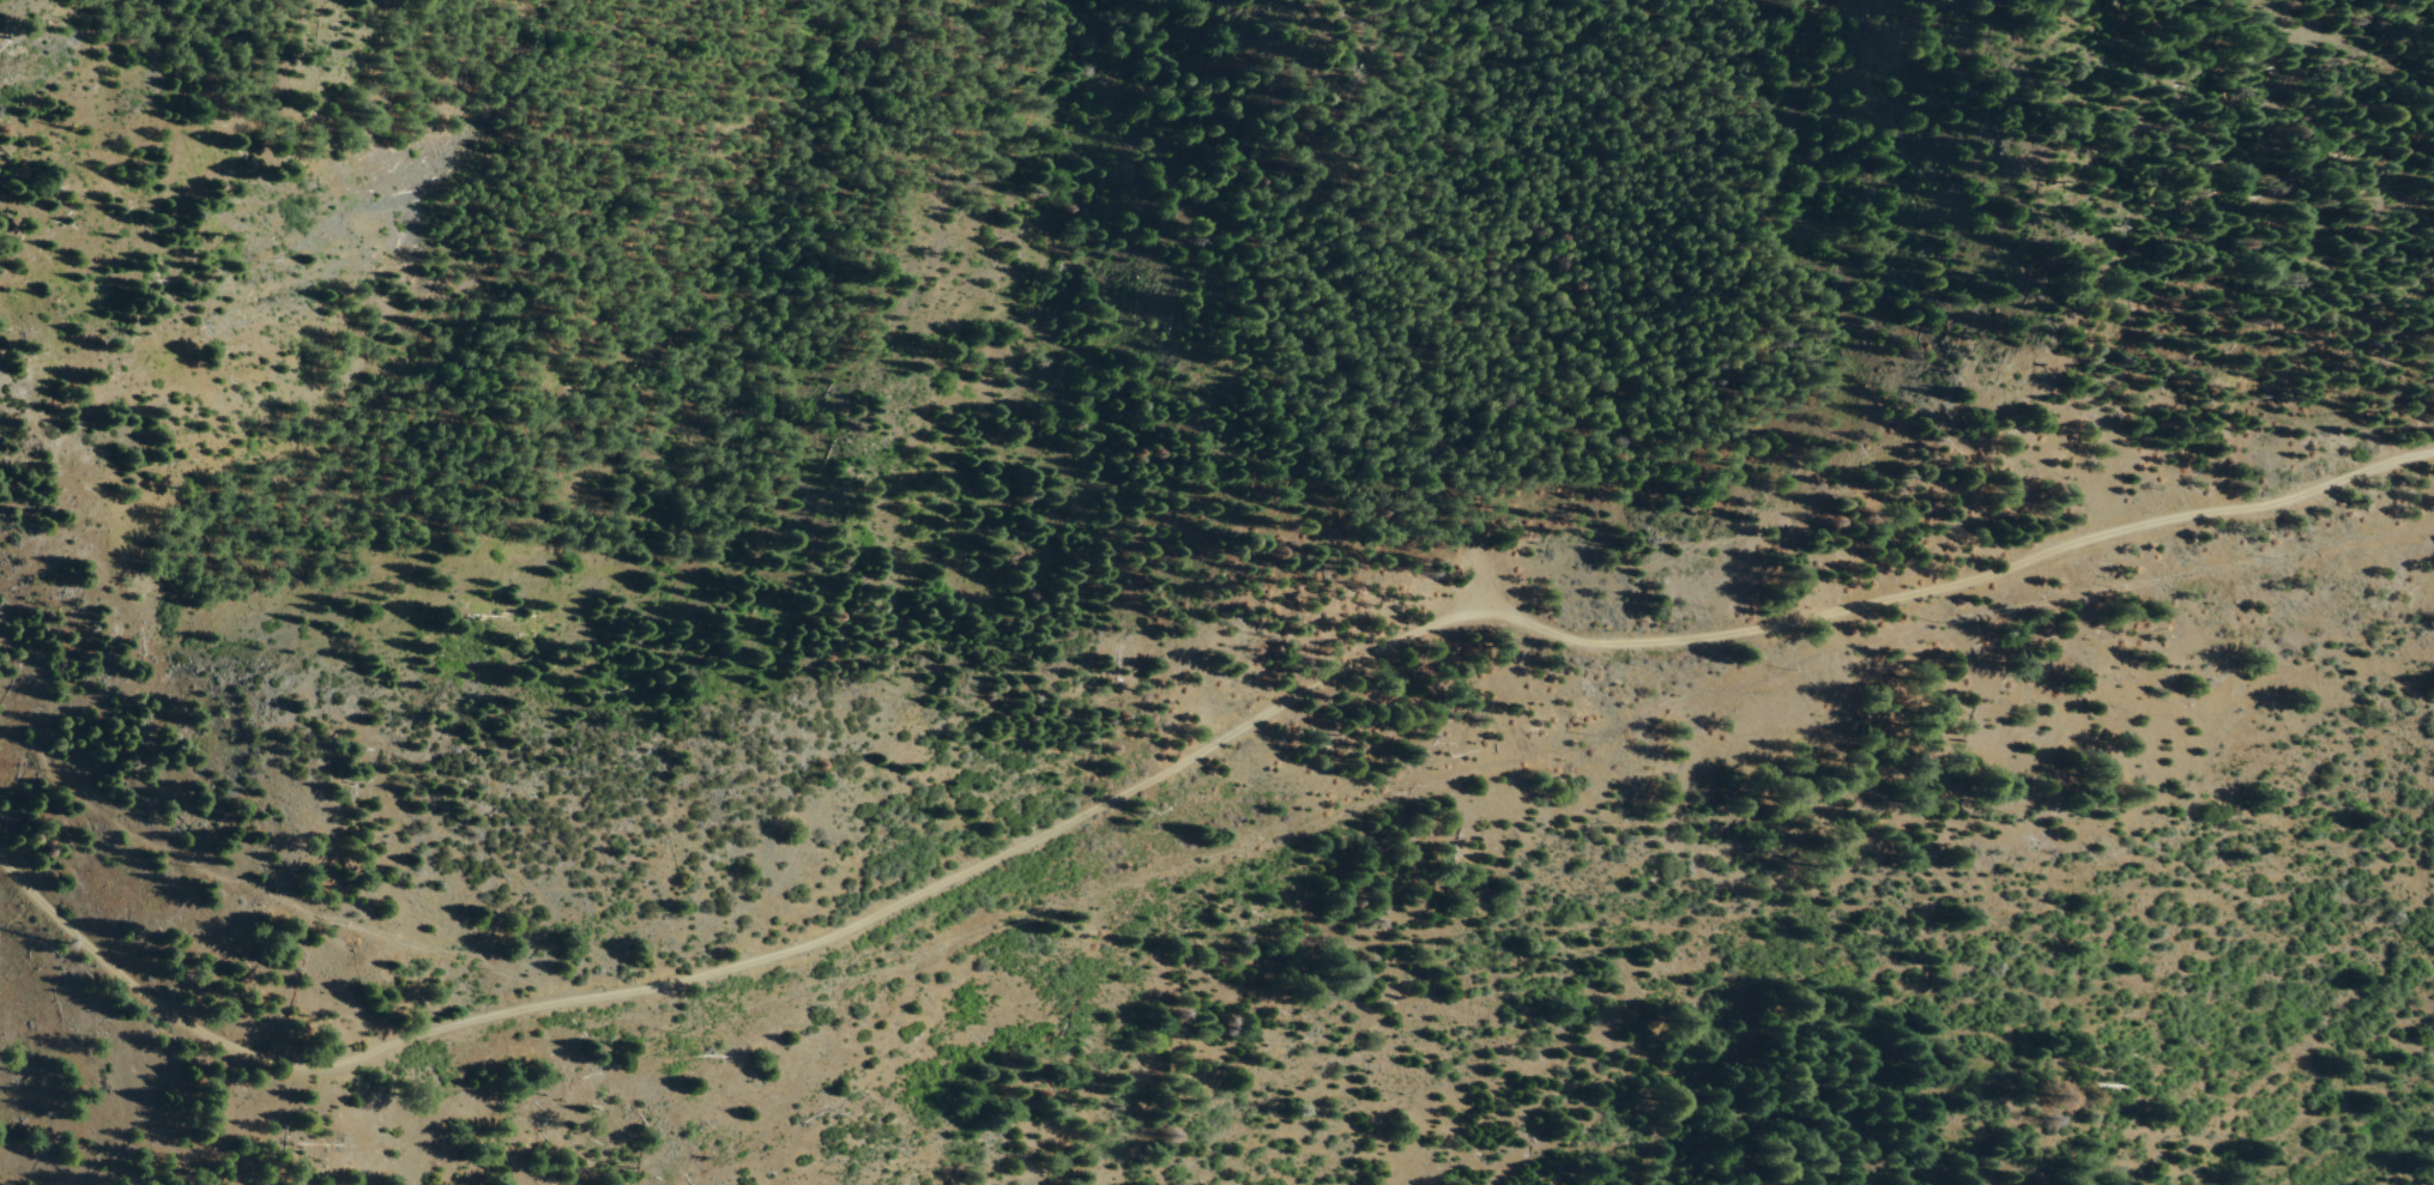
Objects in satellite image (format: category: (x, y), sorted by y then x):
road: (1184, 774)

